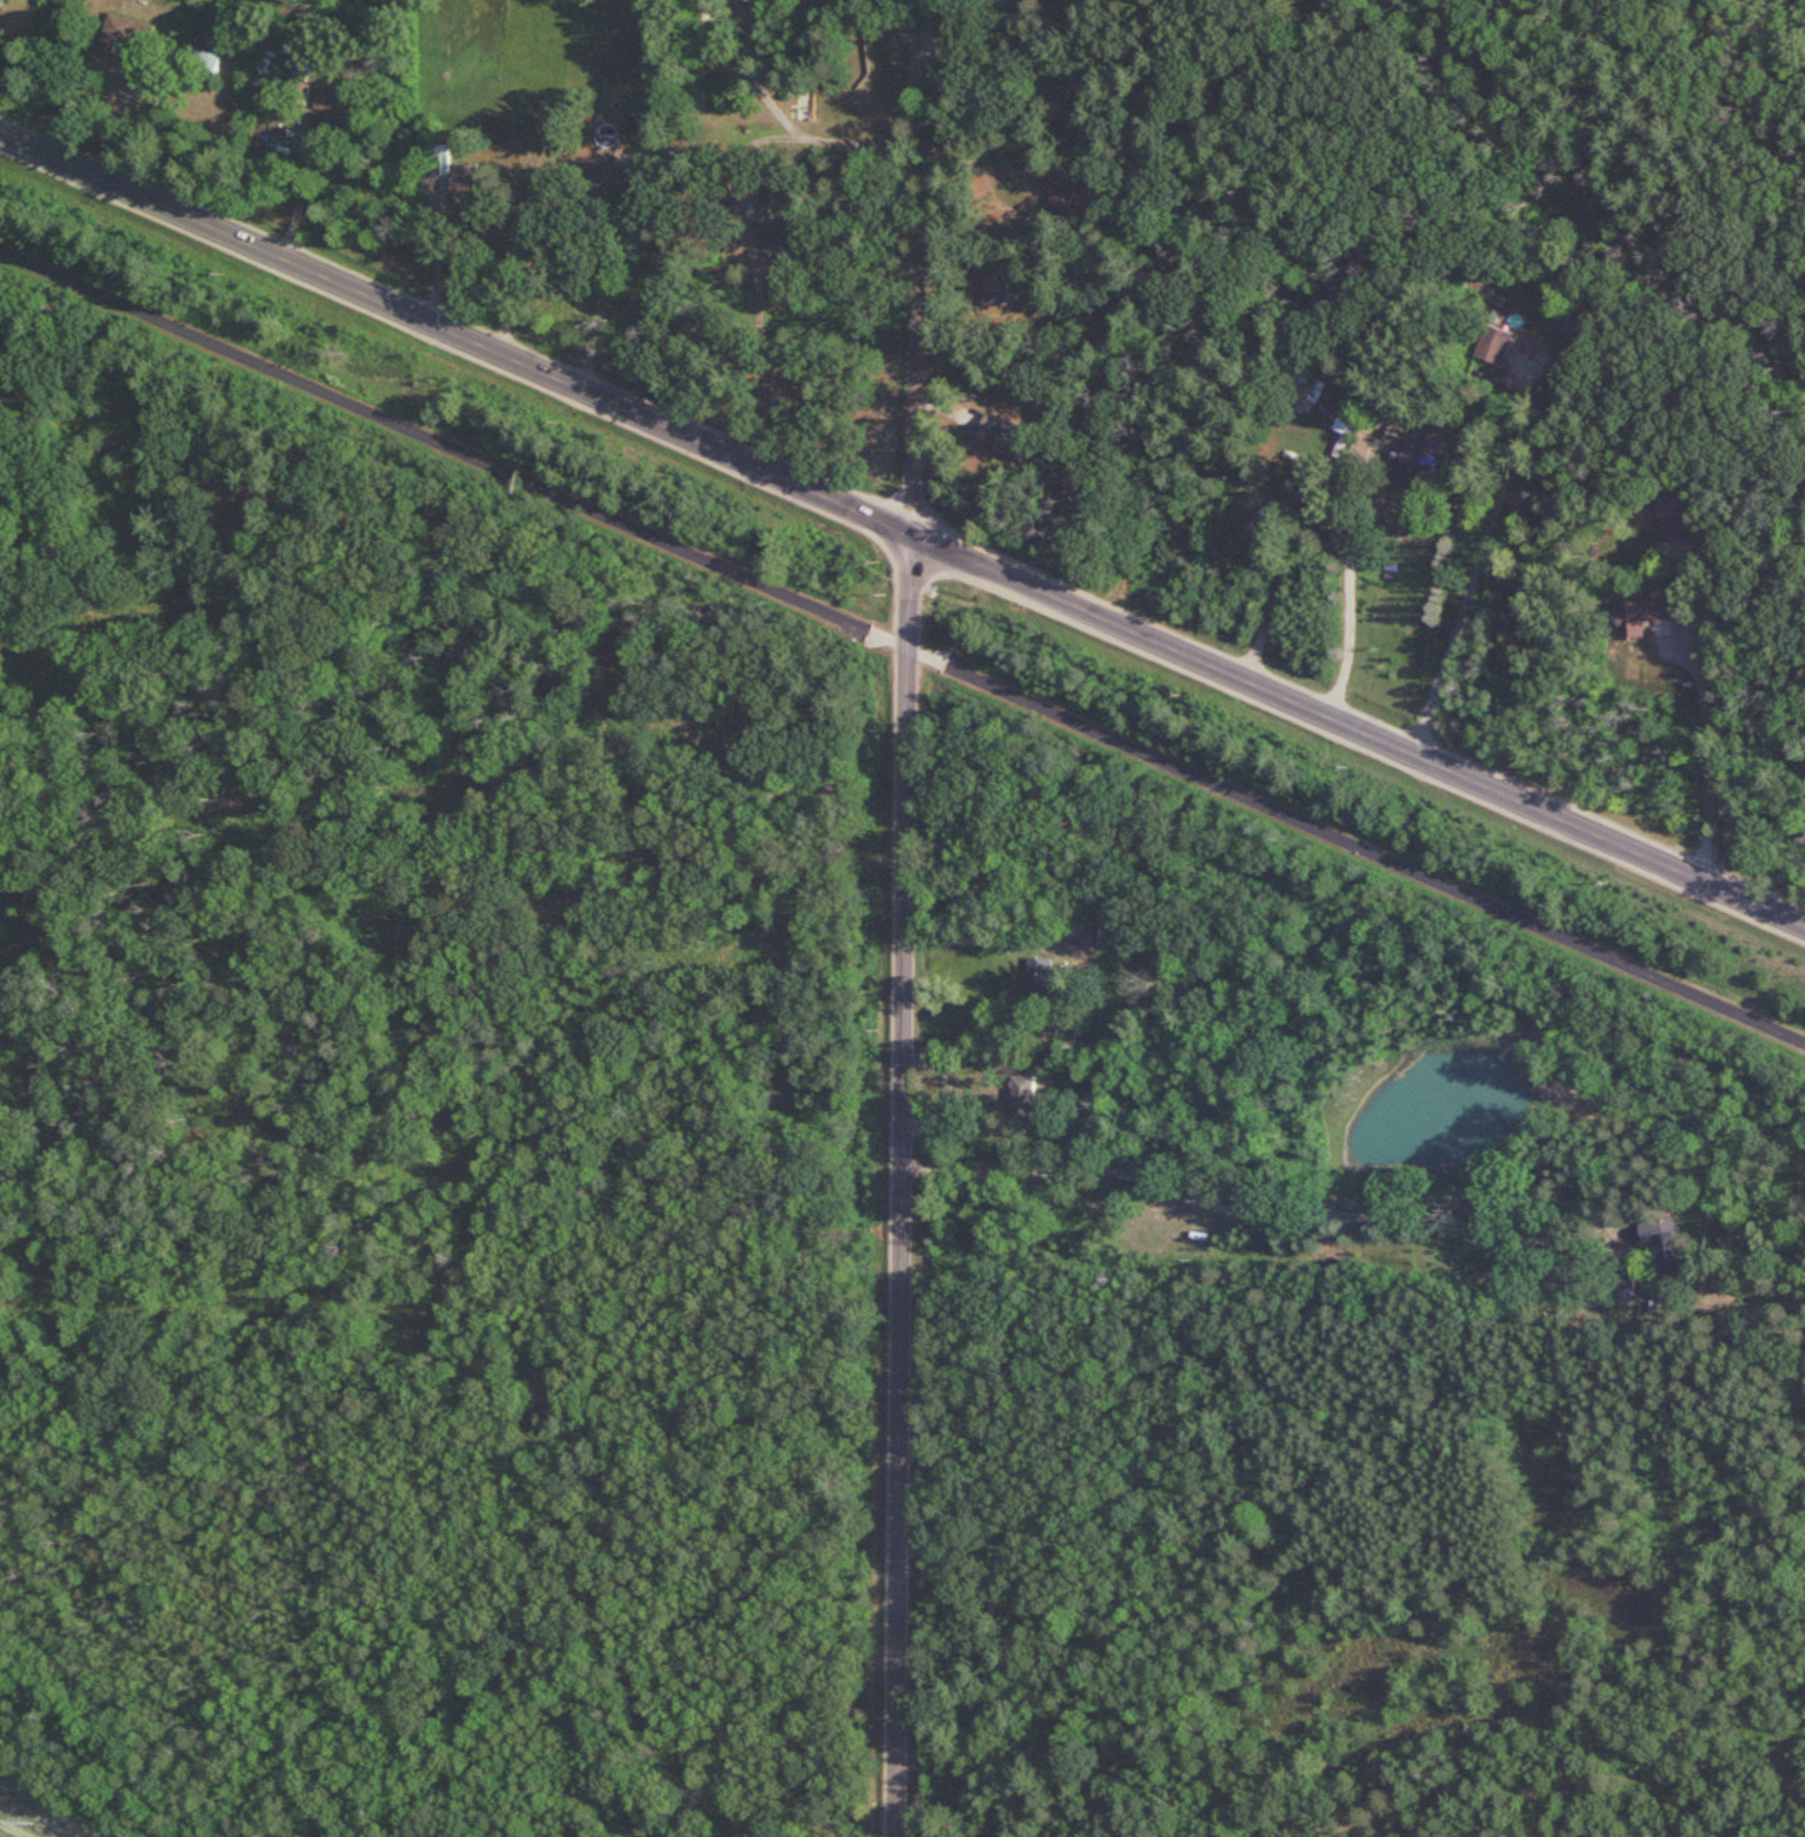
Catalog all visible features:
building: (2, 2)
building: (114, 33)
road: (1265, 40)
building: (202, 64)
building: (300, 92)
building: (1066, 93)
building: (336, 104)
building: (809, 104)
road: (126, 114)
building: (622, 180)
building: (460, 181)
building: (1054, 185)
road: (303, 188)
road: (915, 264)
building: (996, 287)
road: (596, 325)
building: (1573, 327)
road: (762, 341)
building: (1495, 344)
building: (1300, 391)
building: (1006, 437)
building: (1415, 463)
building: (1675, 517)
road: (901, 529)
road: (1480, 554)
road: (1351, 609)
building: (1642, 615)
road: (902, 645)
road: (1708, 752)
building: (1043, 976)
road: (901, 1184)
building: (1665, 1245)
building: (1624, 1289)
power tower: (23, 1815)
road: (1356, 1823)

